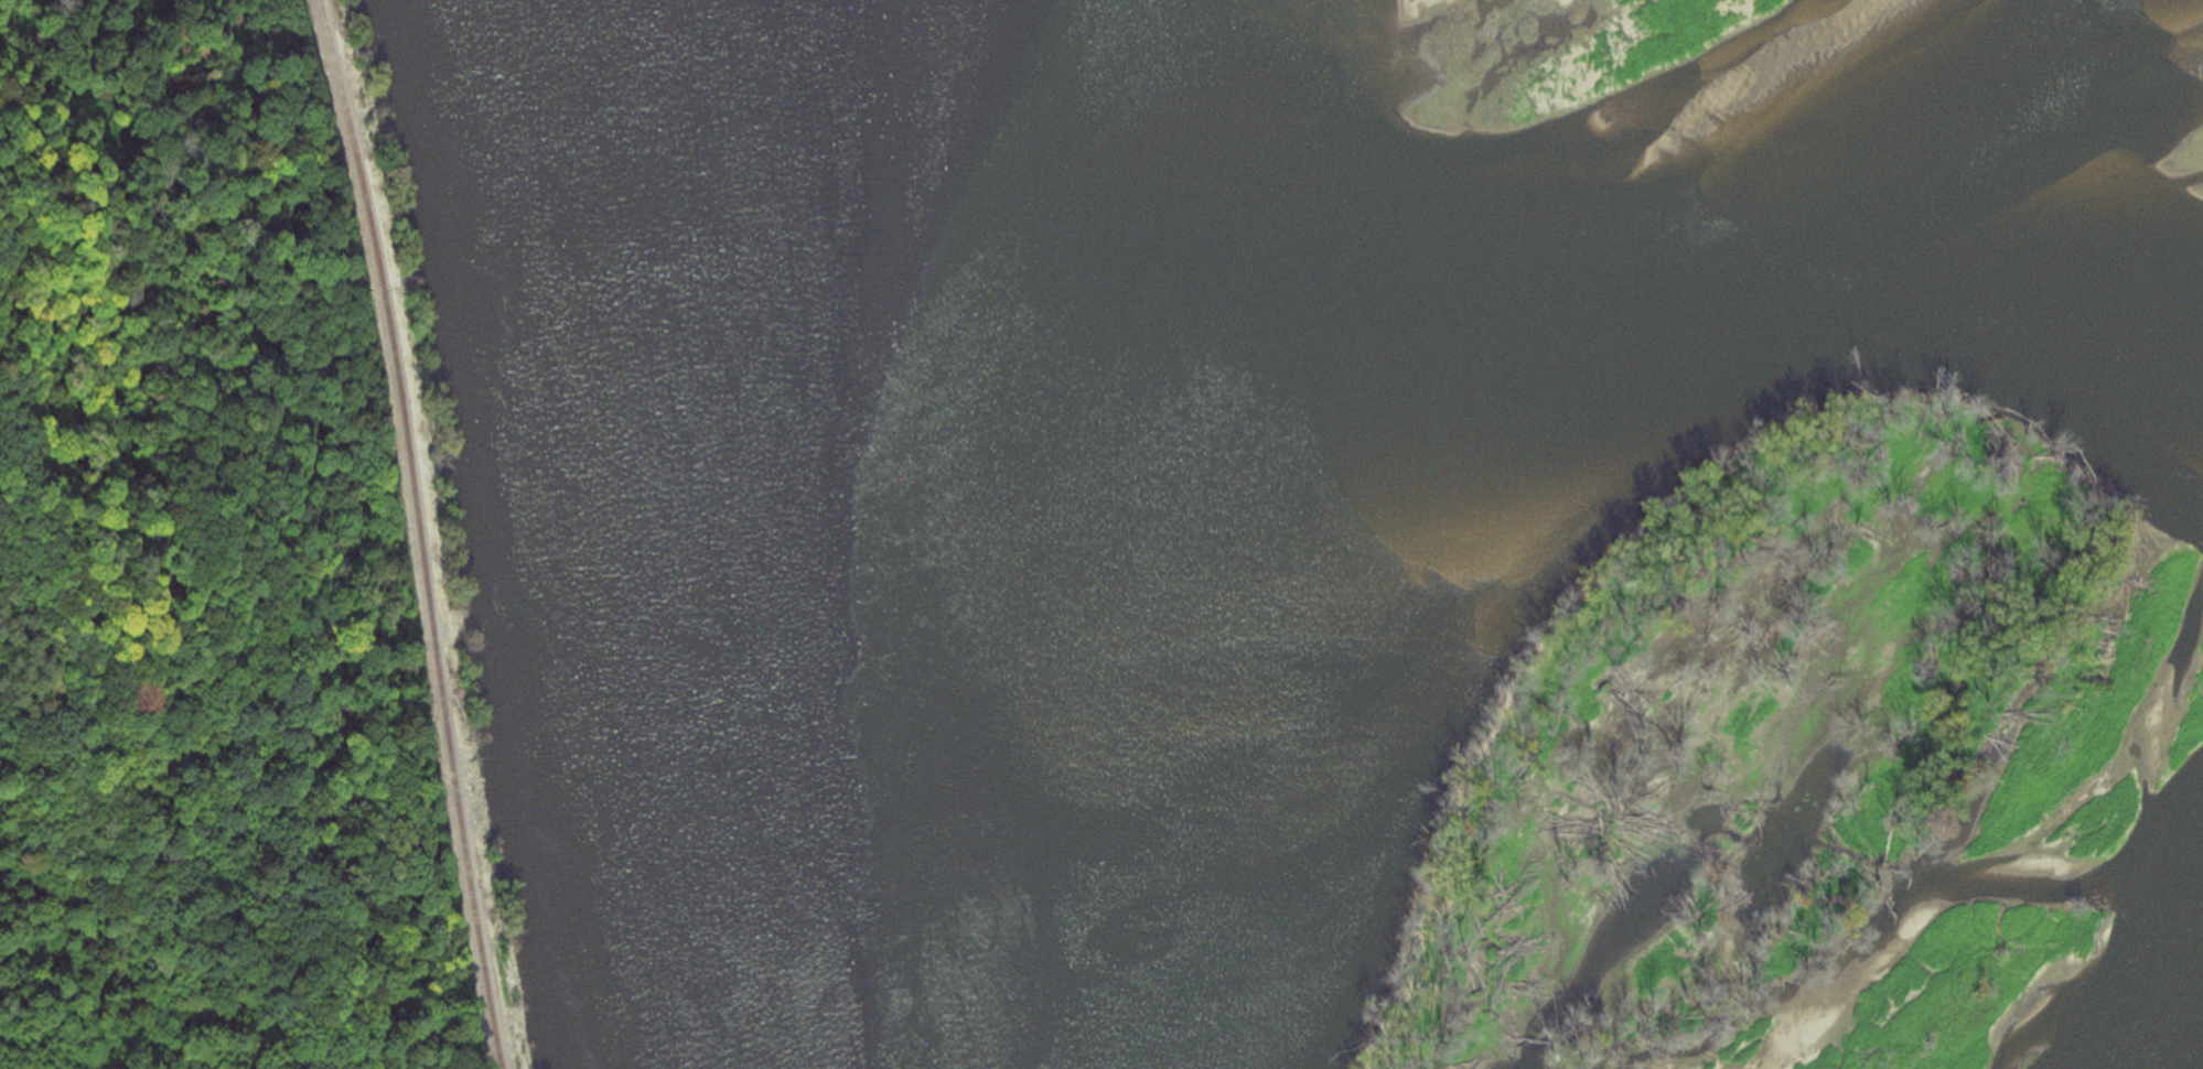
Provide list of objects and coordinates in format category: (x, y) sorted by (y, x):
railway: (419, 532)
river: (750, 533)
river: (2124, 1004)

